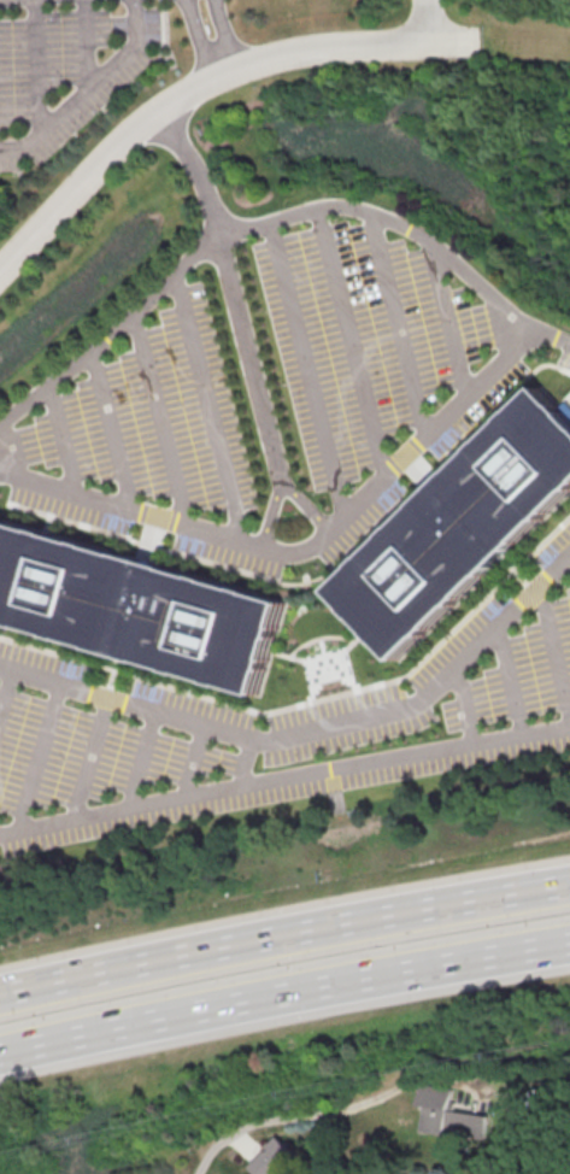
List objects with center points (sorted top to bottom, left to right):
road: (429, 22)
road: (223, 35)
road: (199, 39)
road: (83, 46)
road: (34, 70)
road: (205, 80)
road: (87, 89)
road: (194, 168)
road: (410, 228)
road: (222, 250)
road: (449, 319)
road: (398, 322)
road: (353, 340)
road: (306, 370)
road: (208, 409)
road: (159, 422)
road: (108, 434)
road: (63, 441)
road: (305, 506)
building: (474, 533)
road: (305, 547)
building: (145, 606)
road: (556, 651)
road: (511, 682)
road: (6, 688)
road: (463, 708)
road: (308, 728)
road: (39, 758)
road: (88, 759)
road: (141, 761)
road: (190, 761)
road: (242, 763)
road: (283, 779)
road: (283, 935)
road: (283, 993)
road: (295, 1113)
building: (449, 1116)
building: (277, 1158)

